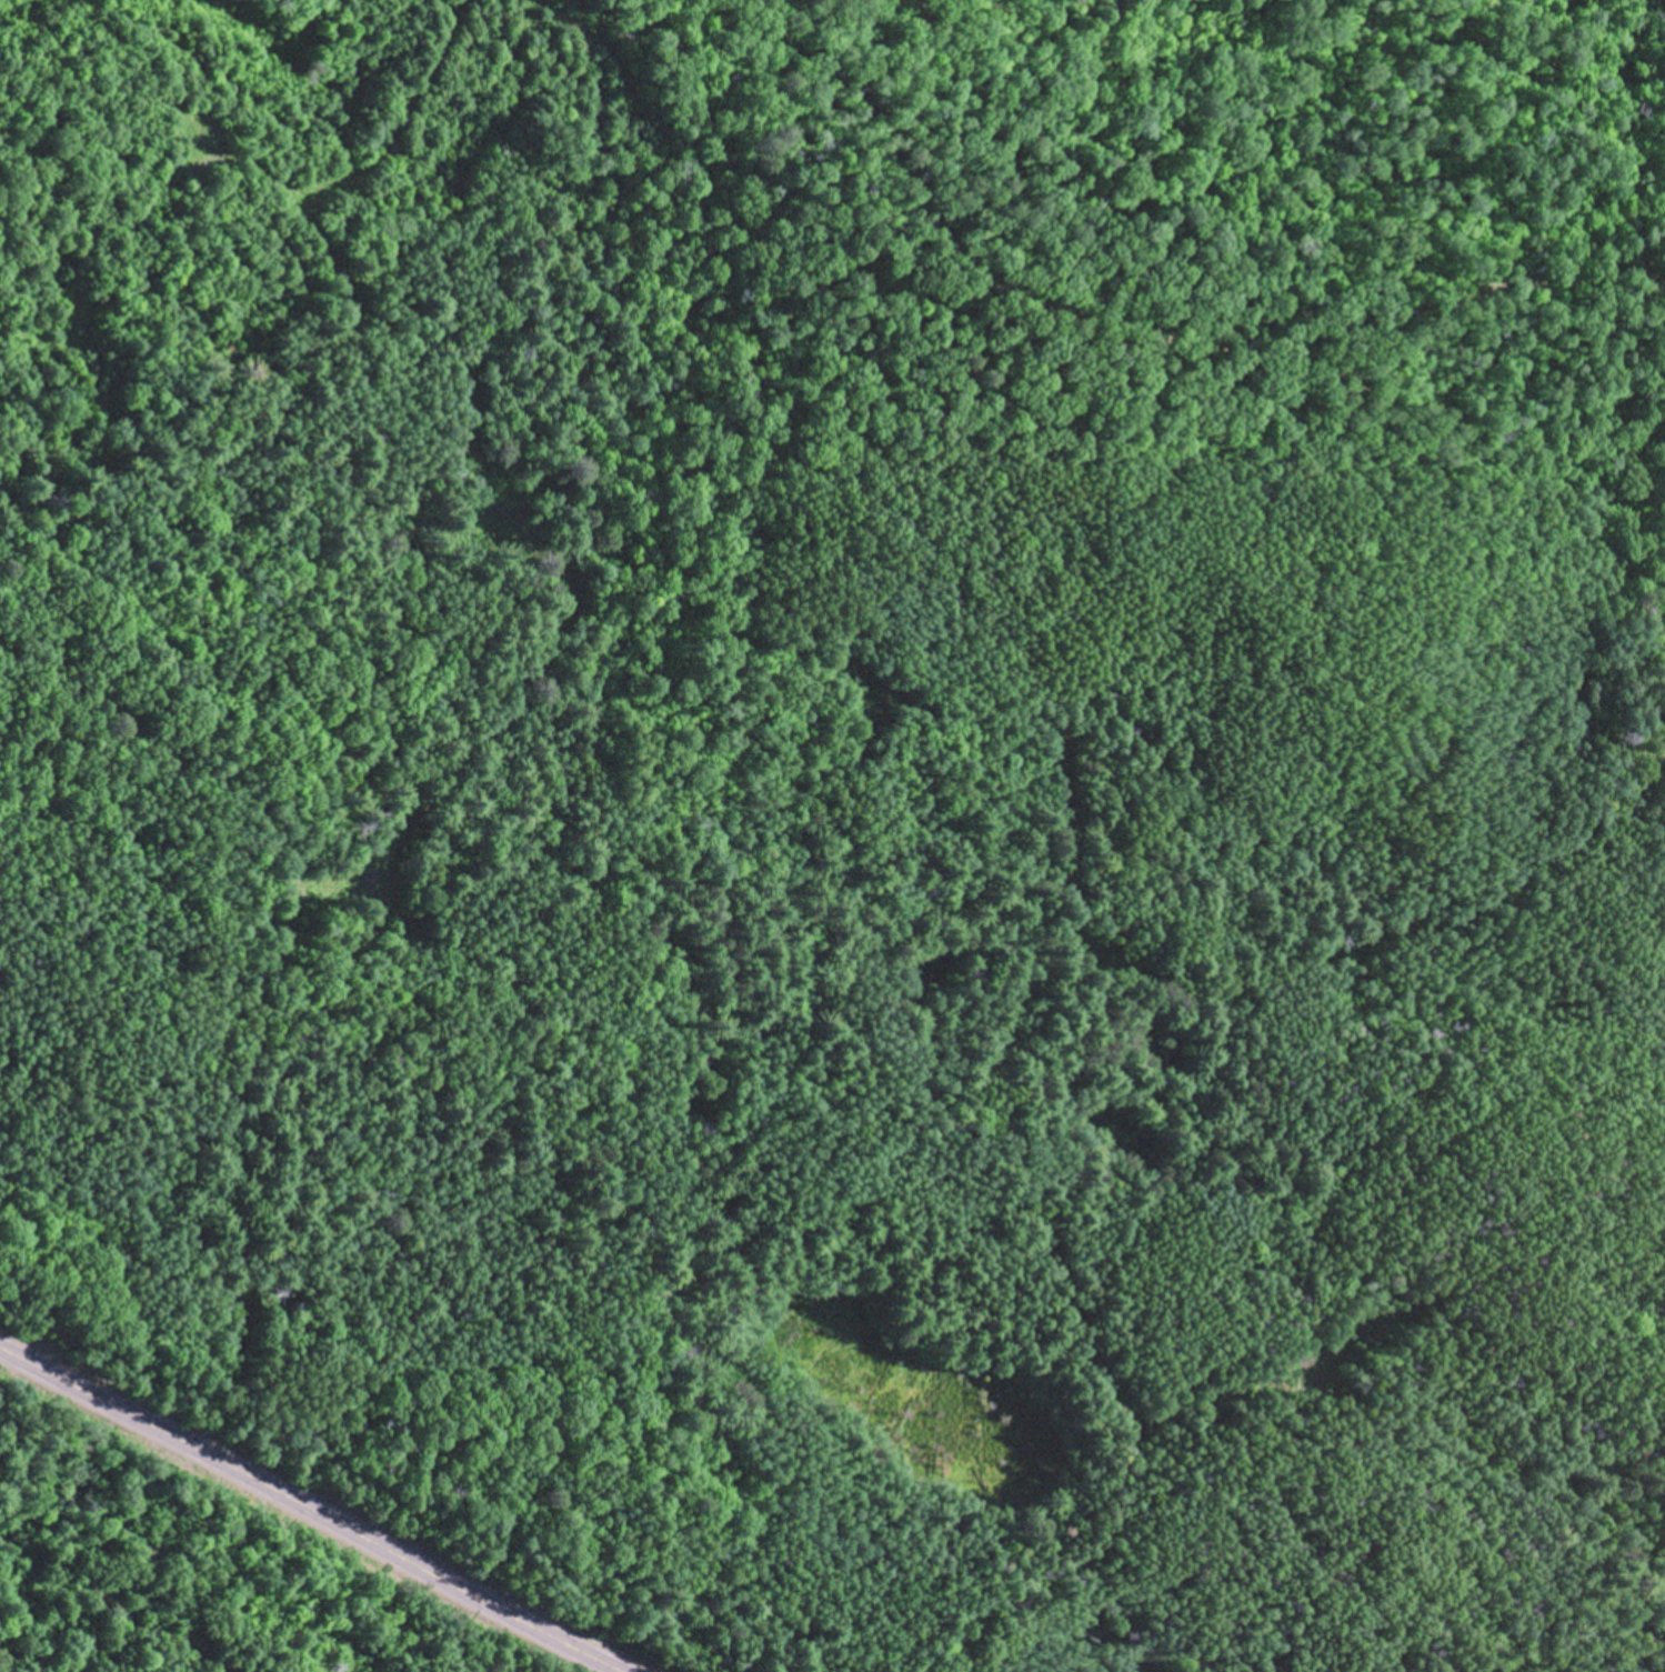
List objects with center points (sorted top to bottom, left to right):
road: (312, 1510)

